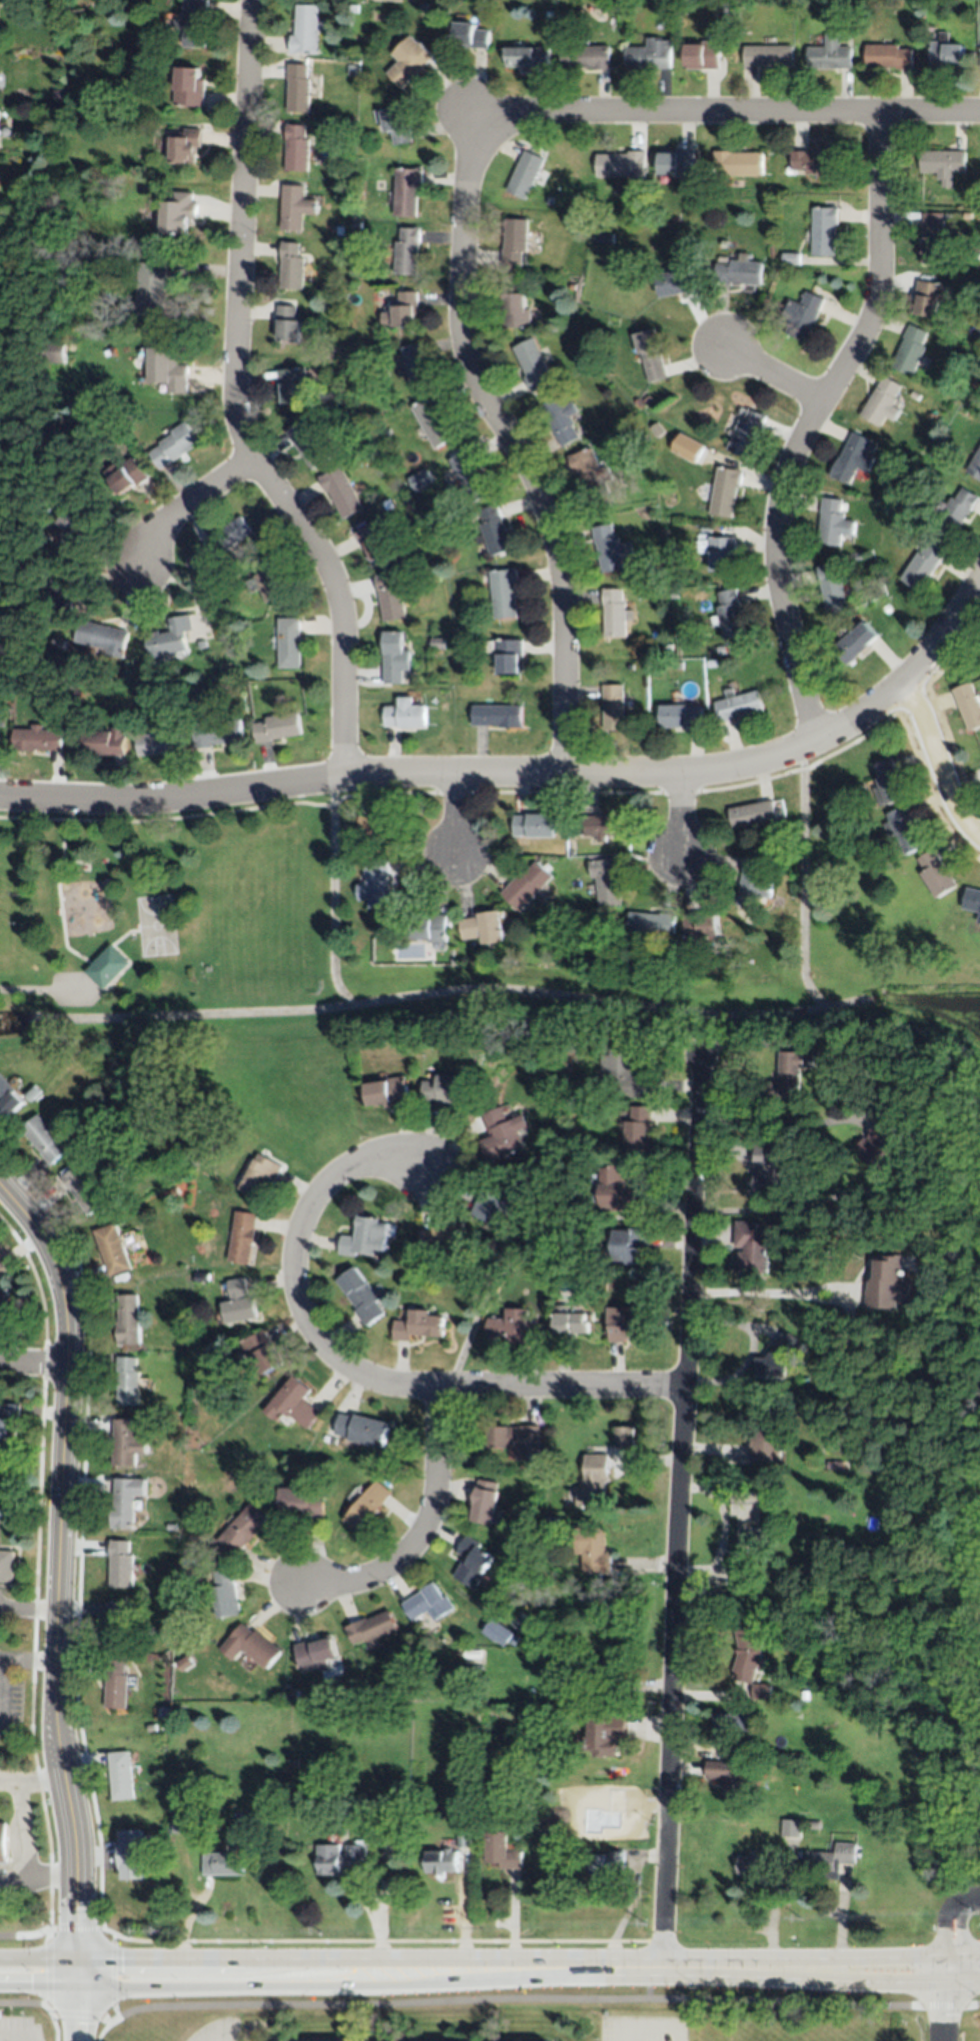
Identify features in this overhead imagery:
building: (423, 4)
building: (972, 5)
building: (354, 8)
building: (547, 13)
building: (194, 22)
building: (306, 31)
building: (471, 36)
building: (946, 53)
building: (651, 55)
building: (701, 55)
building: (829, 56)
building: (528, 57)
building: (767, 57)
building: (888, 57)
building: (586, 58)
building: (410, 59)
building: (979, 68)
building: (351, 69)
building: (190, 88)
building: (298, 89)
building: (87, 99)
road: (731, 112)
road: (474, 118)
building: (85, 123)
building: (398, 126)
building: (186, 147)
building: (297, 150)
building: (813, 162)
building: (678, 164)
building: (738, 164)
building: (943, 164)
building: (623, 168)
building: (526, 175)
building: (407, 191)
building: (549, 200)
building: (295, 208)
building: (179, 211)
building: (967, 216)
building: (356, 225)
building: (824, 232)
building: (605, 238)
building: (932, 238)
building: (515, 242)
building: (408, 252)
building: (68, 258)
building: (790, 259)
building: (292, 268)
building: (737, 272)
building: (676, 283)
building: (571, 286)
building: (152, 289)
building: (928, 299)
building: (402, 310)
building: (514, 312)
building: (802, 316)
building: (288, 324)
building: (53, 350)
building: (910, 350)
building: (650, 355)
building: (533, 366)
building: (416, 367)
building: (167, 368)
road: (772, 374)
building: (292, 385)
building: (914, 396)
road: (237, 403)
building: (882, 404)
building: (560, 419)
building: (975, 419)
building: (433, 421)
road: (809, 422)
building: (655, 429)
building: (745, 434)
building: (642, 437)
building: (308, 446)
road: (516, 446)
building: (174, 447)
building: (687, 448)
building: (853, 459)
building: (975, 465)
building: (590, 474)
building: (127, 475)
building: (418, 476)
building: (470, 478)
building: (724, 491)
building: (341, 492)
road: (186, 503)
building: (388, 505)
building: (6, 512)
building: (956, 512)
building: (833, 524)
building: (65, 528)
building: (446, 528)
building: (493, 531)
building: (227, 537)
building: (29, 539)
building: (374, 541)
building: (609, 548)
building: (719, 553)
building: (856, 557)
building: (922, 566)
building: (405, 575)
building: (266, 579)
building: (218, 585)
building: (831, 591)
building: (61, 592)
building: (503, 593)
building: (390, 597)
building: (886, 607)
building: (615, 613)
building: (728, 615)
building: (461, 635)
building: (235, 636)
building: (2, 638)
building: (102, 638)
building: (169, 640)
building: (288, 642)
building: (202, 643)
building: (437, 643)
building: (855, 643)
building: (721, 650)
building: (506, 655)
building: (394, 657)
building: (707, 660)
building: (677, 664)
building: (74, 694)
building: (968, 705)
building: (736, 706)
building: (613, 707)
building: (405, 715)
building: (496, 716)
building: (679, 716)
building: (1, 719)
building: (276, 727)
building: (217, 733)
building: (36, 739)
building: (160, 741)
building: (105, 742)
road: (936, 763)
road: (527, 774)
building: (887, 785)
road: (678, 815)
road: (452, 816)
building: (752, 816)
building: (380, 825)
building: (533, 826)
building: (605, 826)
building: (903, 831)
building: (570, 851)
building: (935, 875)
building: (606, 881)
building: (377, 884)
building: (527, 885)
building: (752, 885)
building: (971, 900)
building: (650, 924)
building: (430, 928)
building: (482, 928)
building: (700, 928)
building: (107, 965)
park: (187, 976)
building: (836, 1041)
building: (569, 1042)
building: (624, 1072)
building: (788, 1074)
building: (447, 1091)
building: (387, 1092)
building: (9, 1096)
road: (777, 1122)
building: (637, 1130)
building: (502, 1133)
building: (45, 1138)
building: (880, 1147)
building: (767, 1169)
building: (260, 1177)
building: (84, 1190)
building: (615, 1191)
building: (495, 1204)
building: (242, 1237)
building: (364, 1238)
building: (444, 1238)
building: (628, 1245)
building: (751, 1248)
building: (112, 1250)
building: (1, 1266)
road: (293, 1280)
building: (887, 1284)
road: (772, 1290)
building: (361, 1297)
building: (238, 1303)
building: (6, 1307)
building: (128, 1321)
building: (569, 1324)
building: (622, 1324)
building: (417, 1325)
building: (508, 1325)
road: (751, 1350)
building: (261, 1352)
building: (775, 1358)
building: (195, 1362)
road: (36, 1364)
building: (128, 1381)
road: (559, 1387)
building: (293, 1404)
building: (9, 1421)
building: (361, 1429)
building: (624, 1435)
building: (765, 1437)
building: (512, 1438)
building: (555, 1440)
building: (127, 1444)
building: (833, 1464)
building: (592, 1479)
building: (126, 1502)
building: (299, 1502)
building: (483, 1504)
building: (366, 1506)
road: (677, 1511)
building: (750, 1518)
building: (170, 1527)
building: (242, 1530)
road: (424, 1530)
building: (593, 1550)
building: (471, 1562)
building: (188, 1563)
building: (7, 1565)
building: (122, 1565)
building: (740, 1578)
building: (225, 1595)
road: (63, 1598)
road: (2, 1604)
building: (427, 1604)
road: (31, 1606)
building: (520, 1620)
building: (118, 1627)
building: (370, 1629)
building: (497, 1632)
building: (567, 1639)
building: (250, 1645)
building: (747, 1651)
building: (315, 1652)
road: (19, 1658)
building: (186, 1663)
building: (610, 1675)
building: (117, 1684)
building: (380, 1689)
building: (295, 1692)
building: (759, 1692)
building: (805, 1694)
building: (730, 1724)
building: (605, 1733)
building: (750, 1748)
building: (294, 1752)
building: (756, 1773)
building: (122, 1776)
building: (729, 1780)
building: (204, 1793)
building: (813, 1823)
building: (187, 1824)
building: (790, 1827)
building: (410, 1837)
building: (463, 1837)
road: (26, 1838)
building: (4, 1843)
building: (500, 1851)
building: (132, 1855)
building: (337, 1858)
building: (828, 1858)
building: (225, 1859)
building: (439, 1862)
building: (758, 1863)
building: (604, 1864)
road: (12, 1890)
power tower: (976, 1914)
power tower: (800, 1920)
power tower: (645, 1924)
power tower: (159, 1930)
power tower: (479, 1930)
road: (955, 1931)
power tower: (318, 1932)
road: (46, 1943)
road: (477, 1968)
traffic signals: (77, 1969)
road: (967, 1971)
road: (967, 1972)
road: (489, 1999)
road: (952, 2006)

